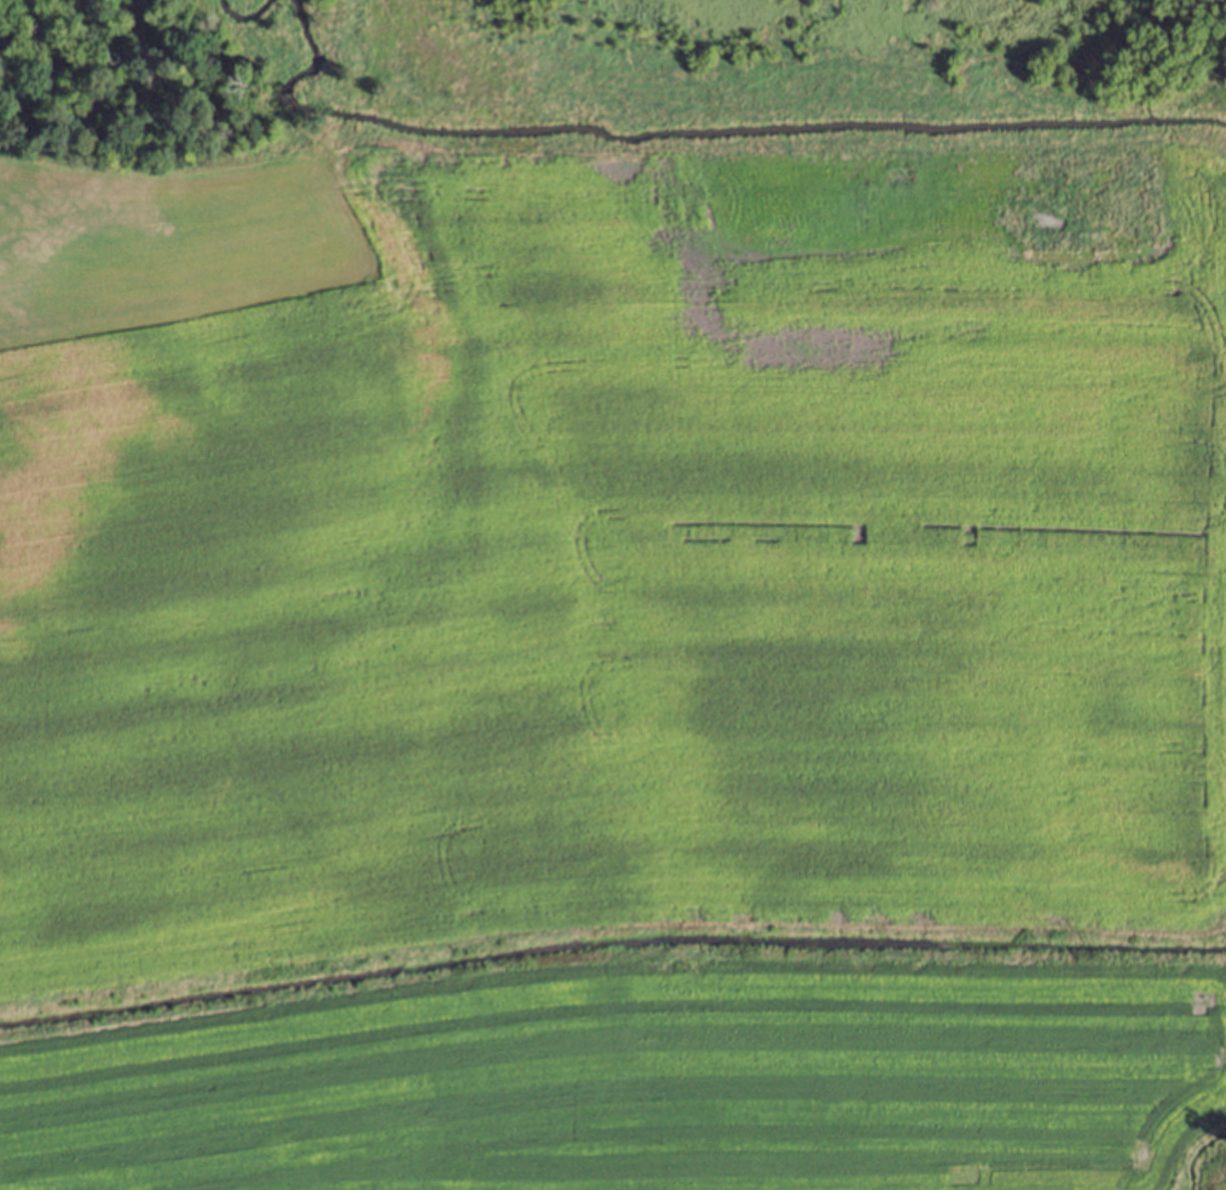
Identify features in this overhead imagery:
river: (670, 140)
road: (134, 174)

